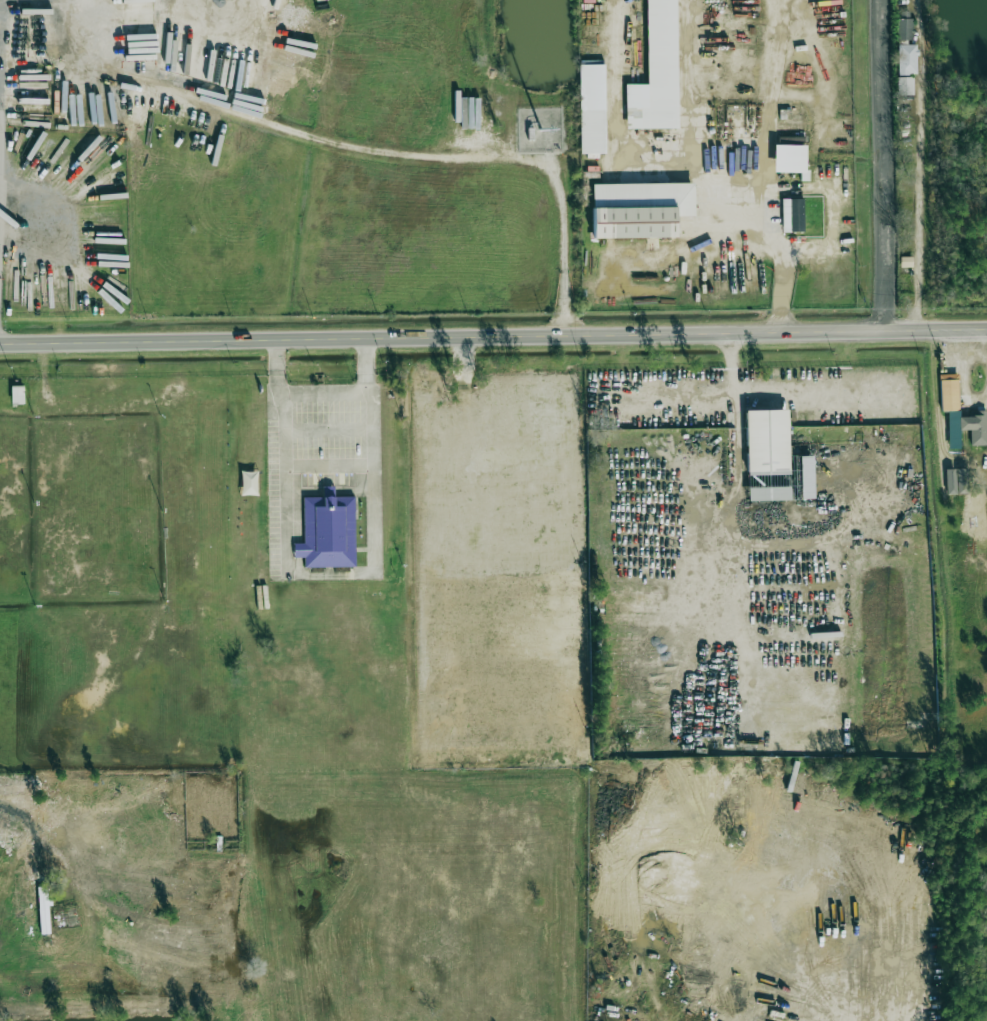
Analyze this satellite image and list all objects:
building: (906, 46)
road: (1, 71)
building: (656, 72)
building: (904, 85)
building: (592, 108)
road: (360, 147)
building: (790, 159)
road: (884, 165)
road: (919, 165)
road: (733, 200)
building: (640, 209)
building: (792, 214)
road: (493, 337)
road: (277, 355)
road: (369, 355)
road: (789, 389)
road: (677, 390)
building: (949, 392)
road: (324, 393)
building: (17, 395)
building: (975, 427)
building: (767, 455)
building: (806, 477)
building: (962, 480)
building: (327, 532)
road: (329, 574)

